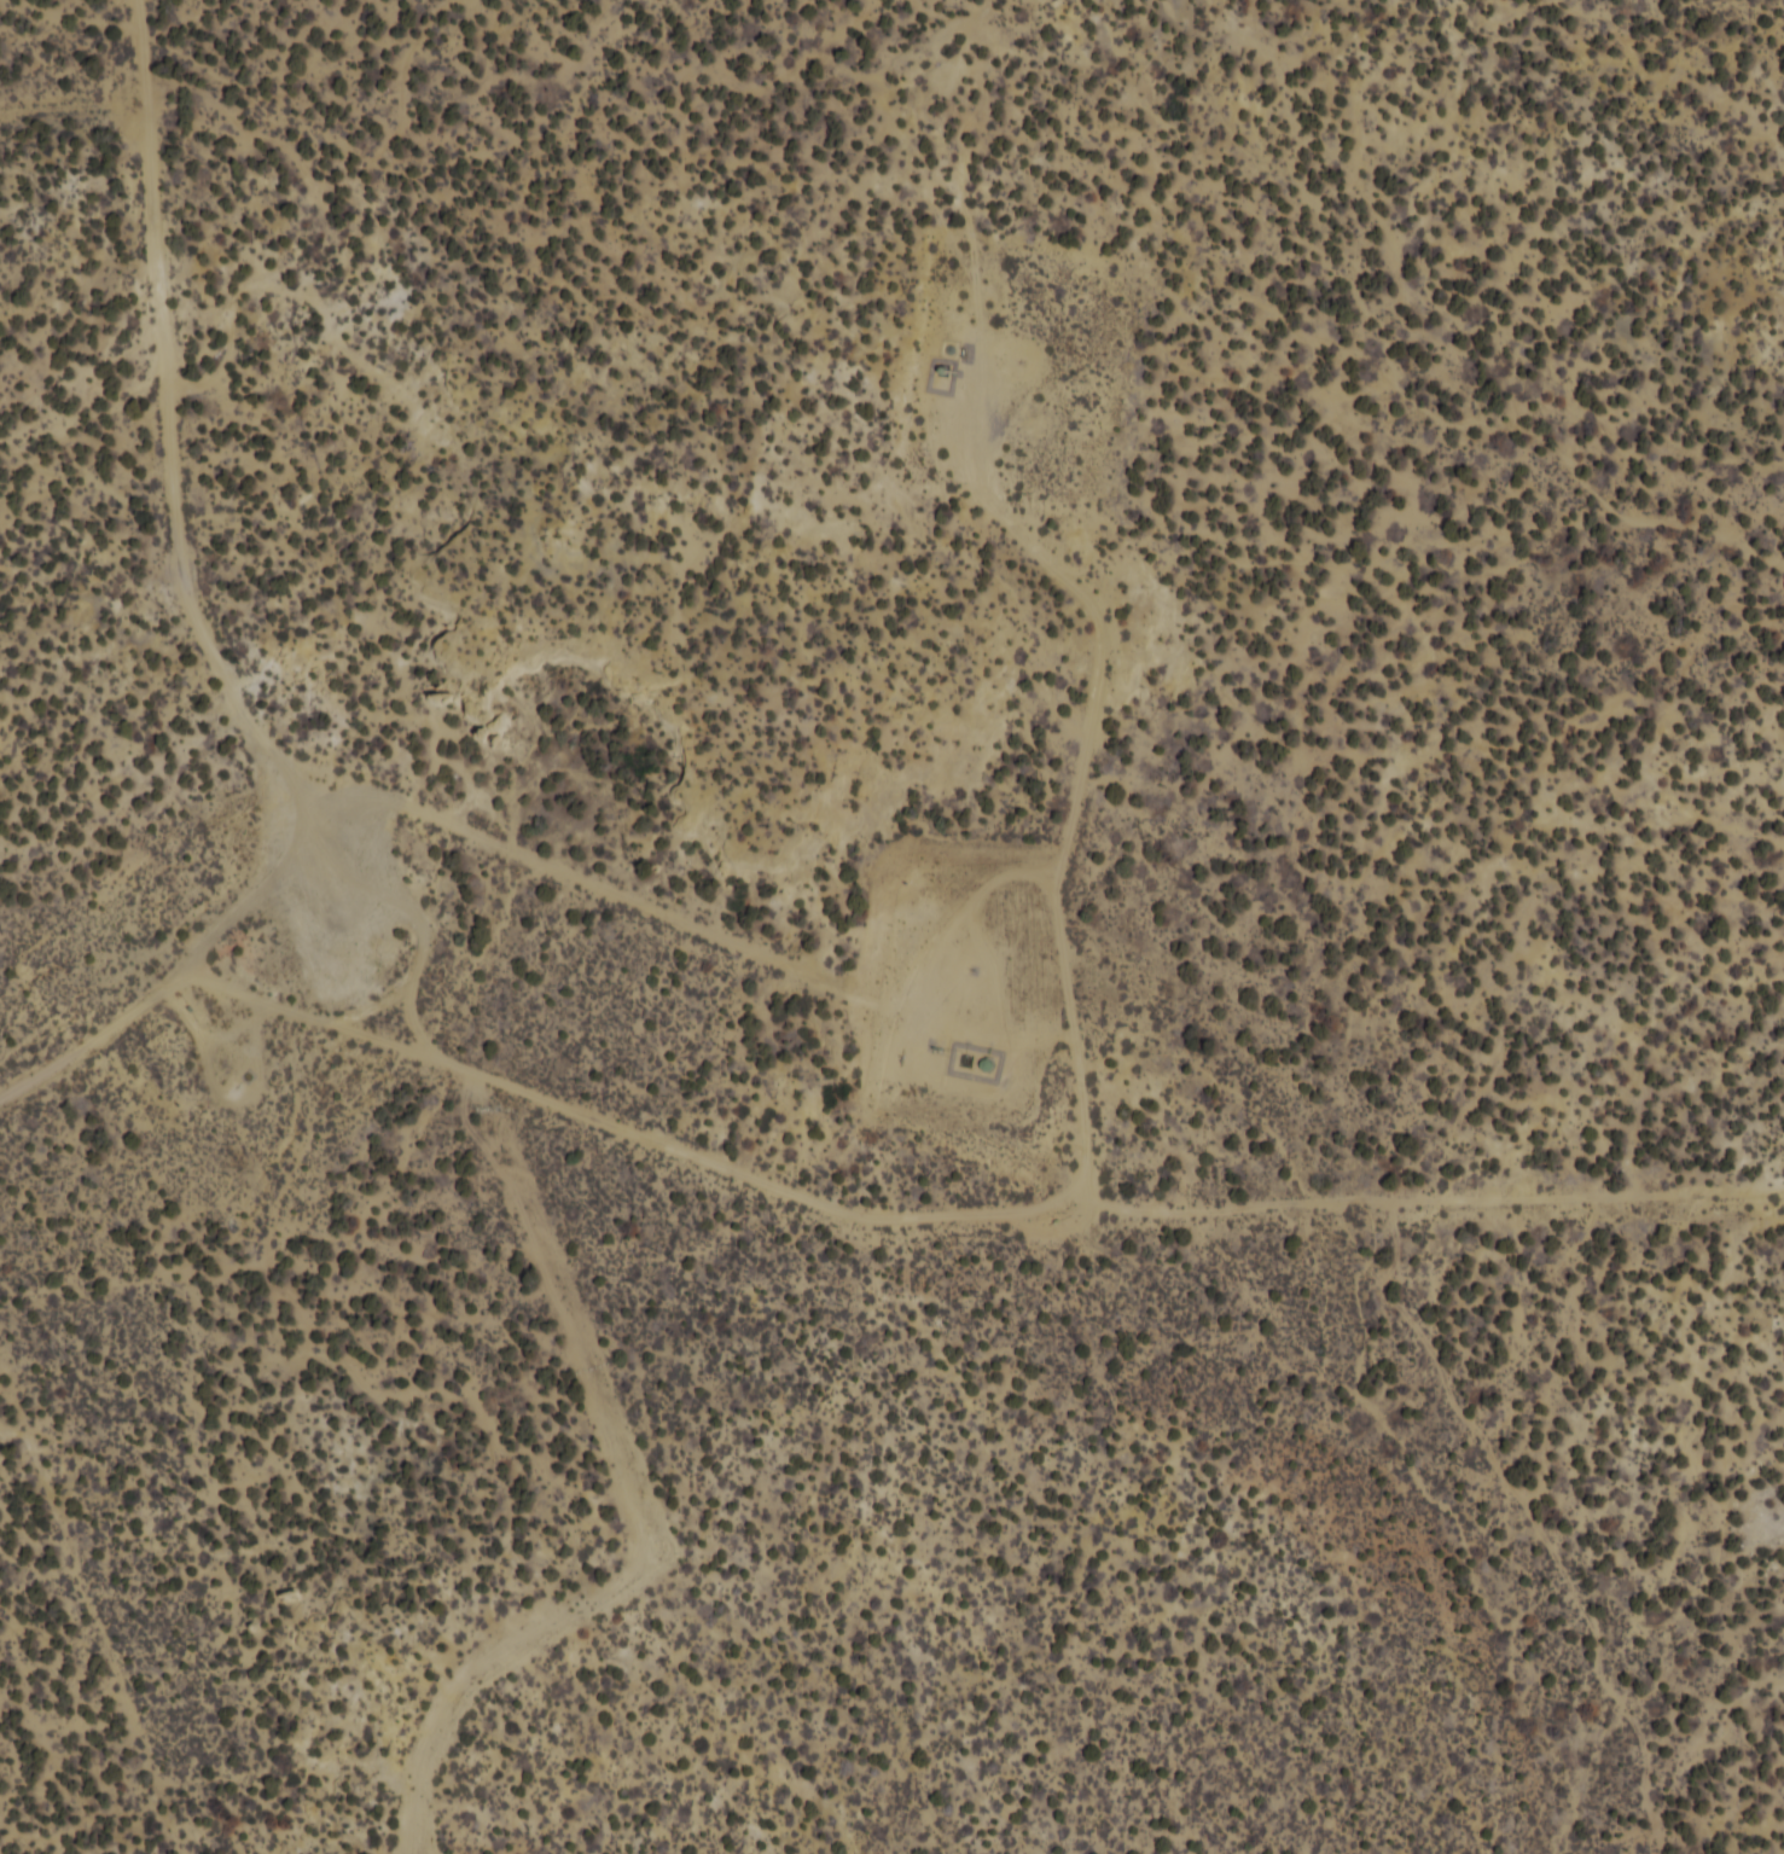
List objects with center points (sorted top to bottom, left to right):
road: (233, 622)
road: (635, 1131)
road: (1436, 1199)

